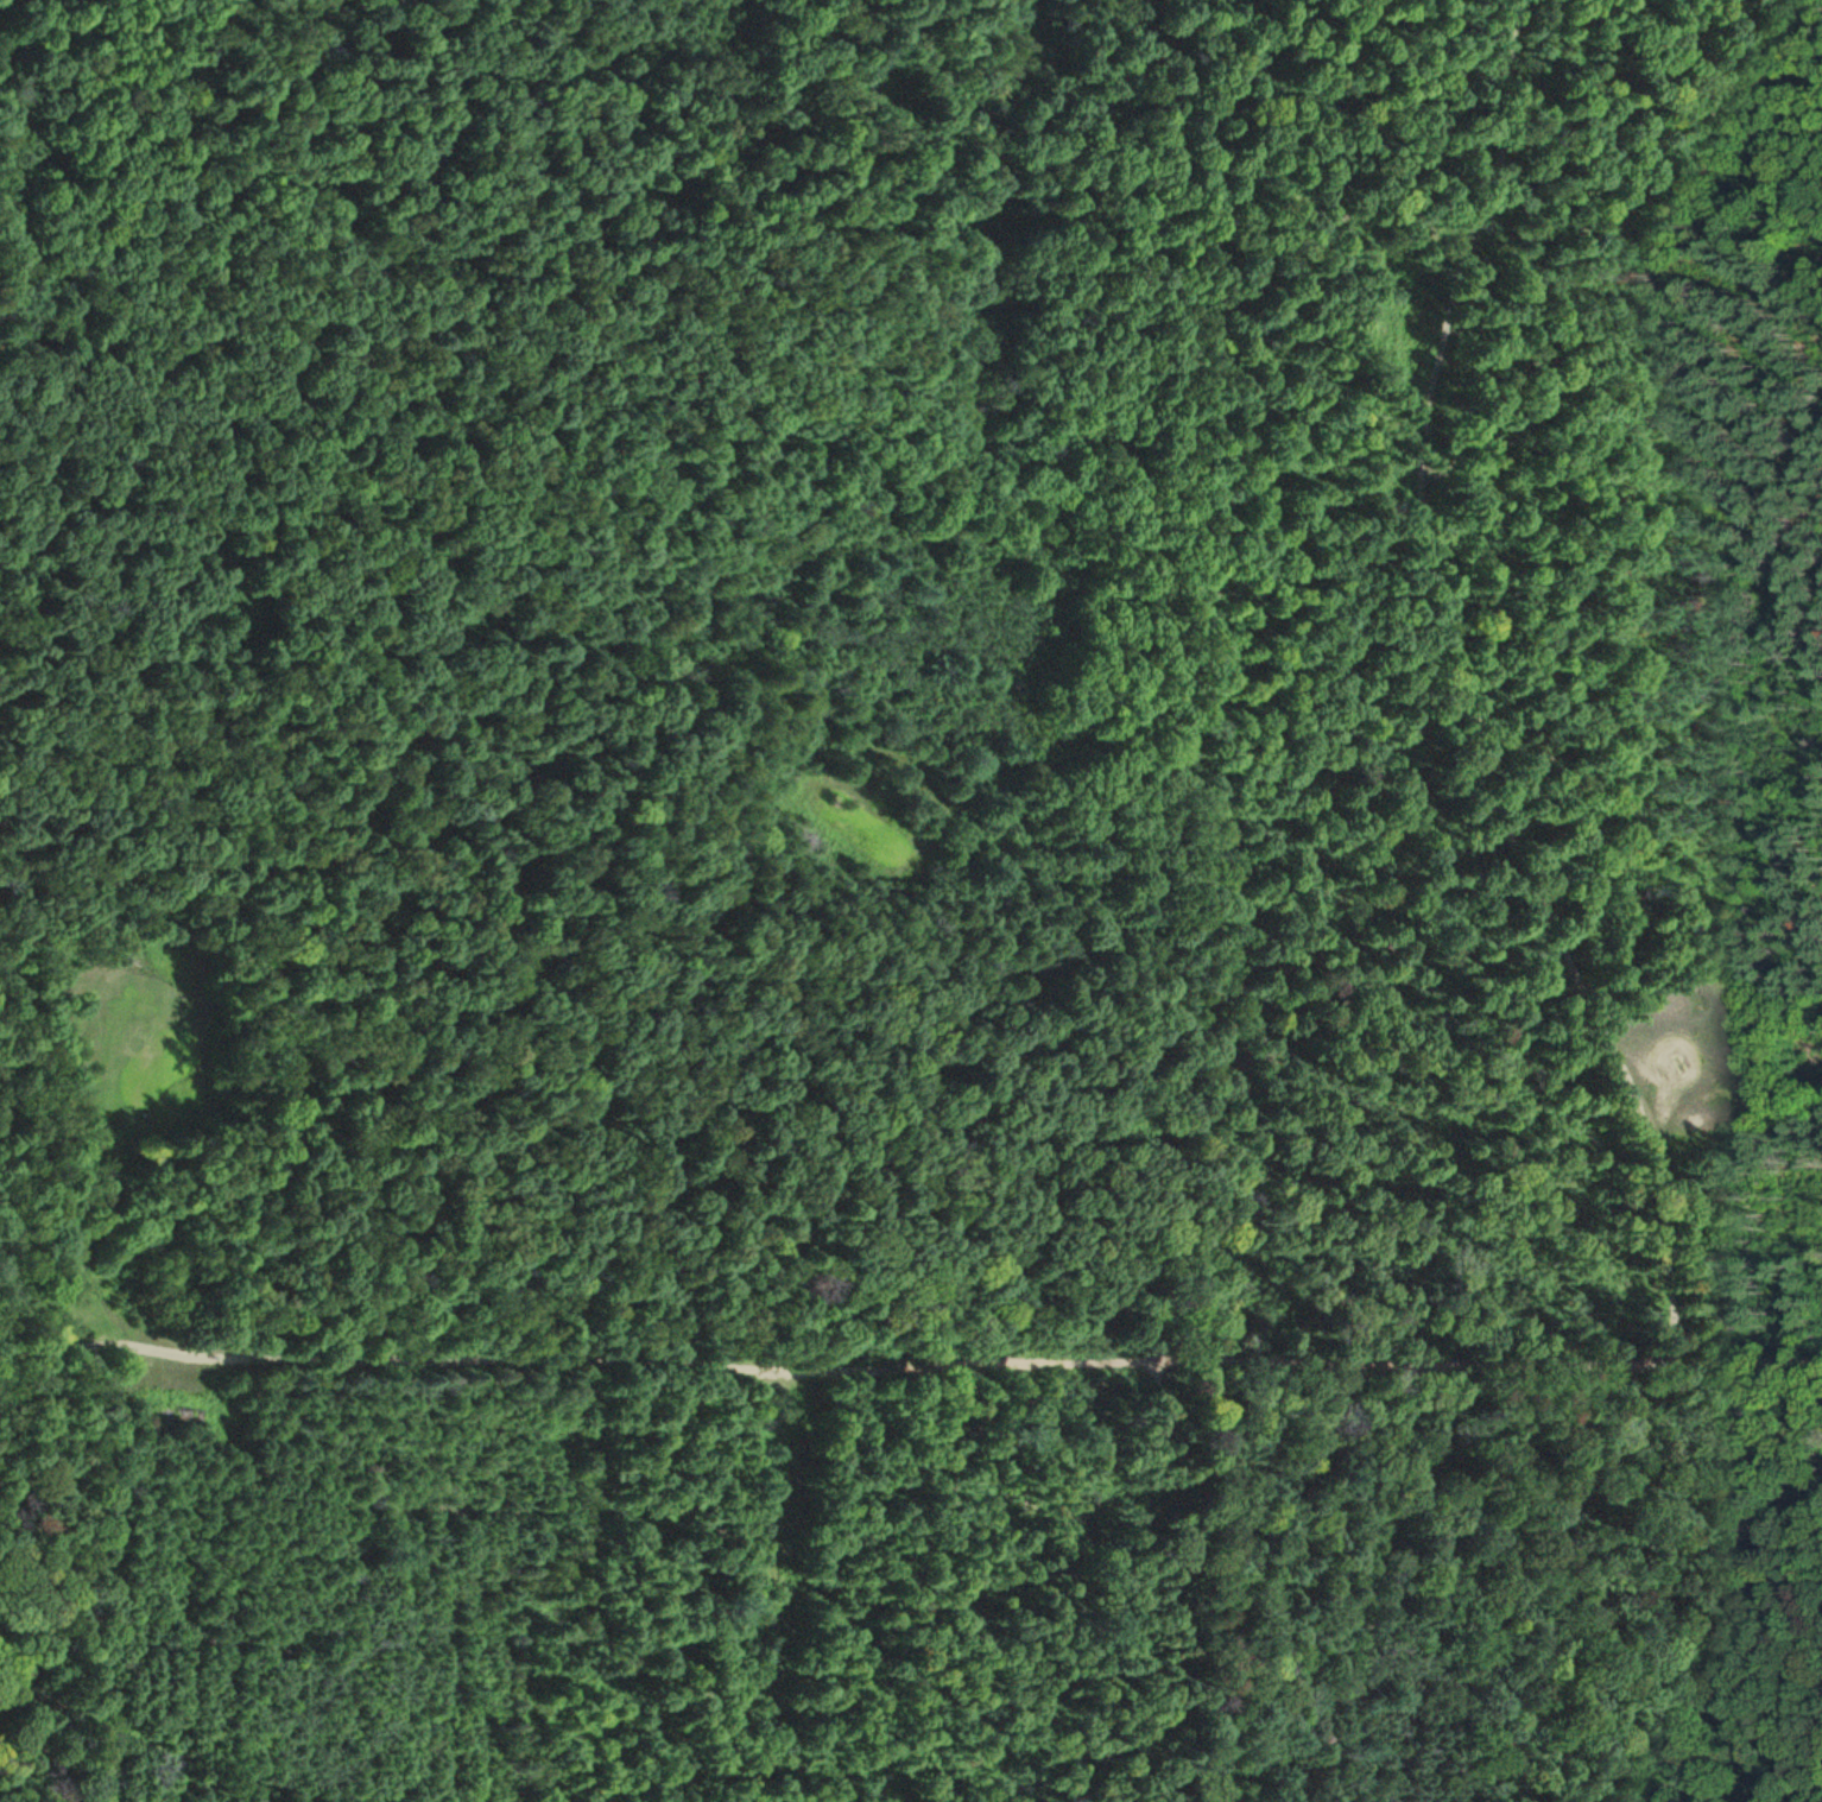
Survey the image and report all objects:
road: (910, 1359)

